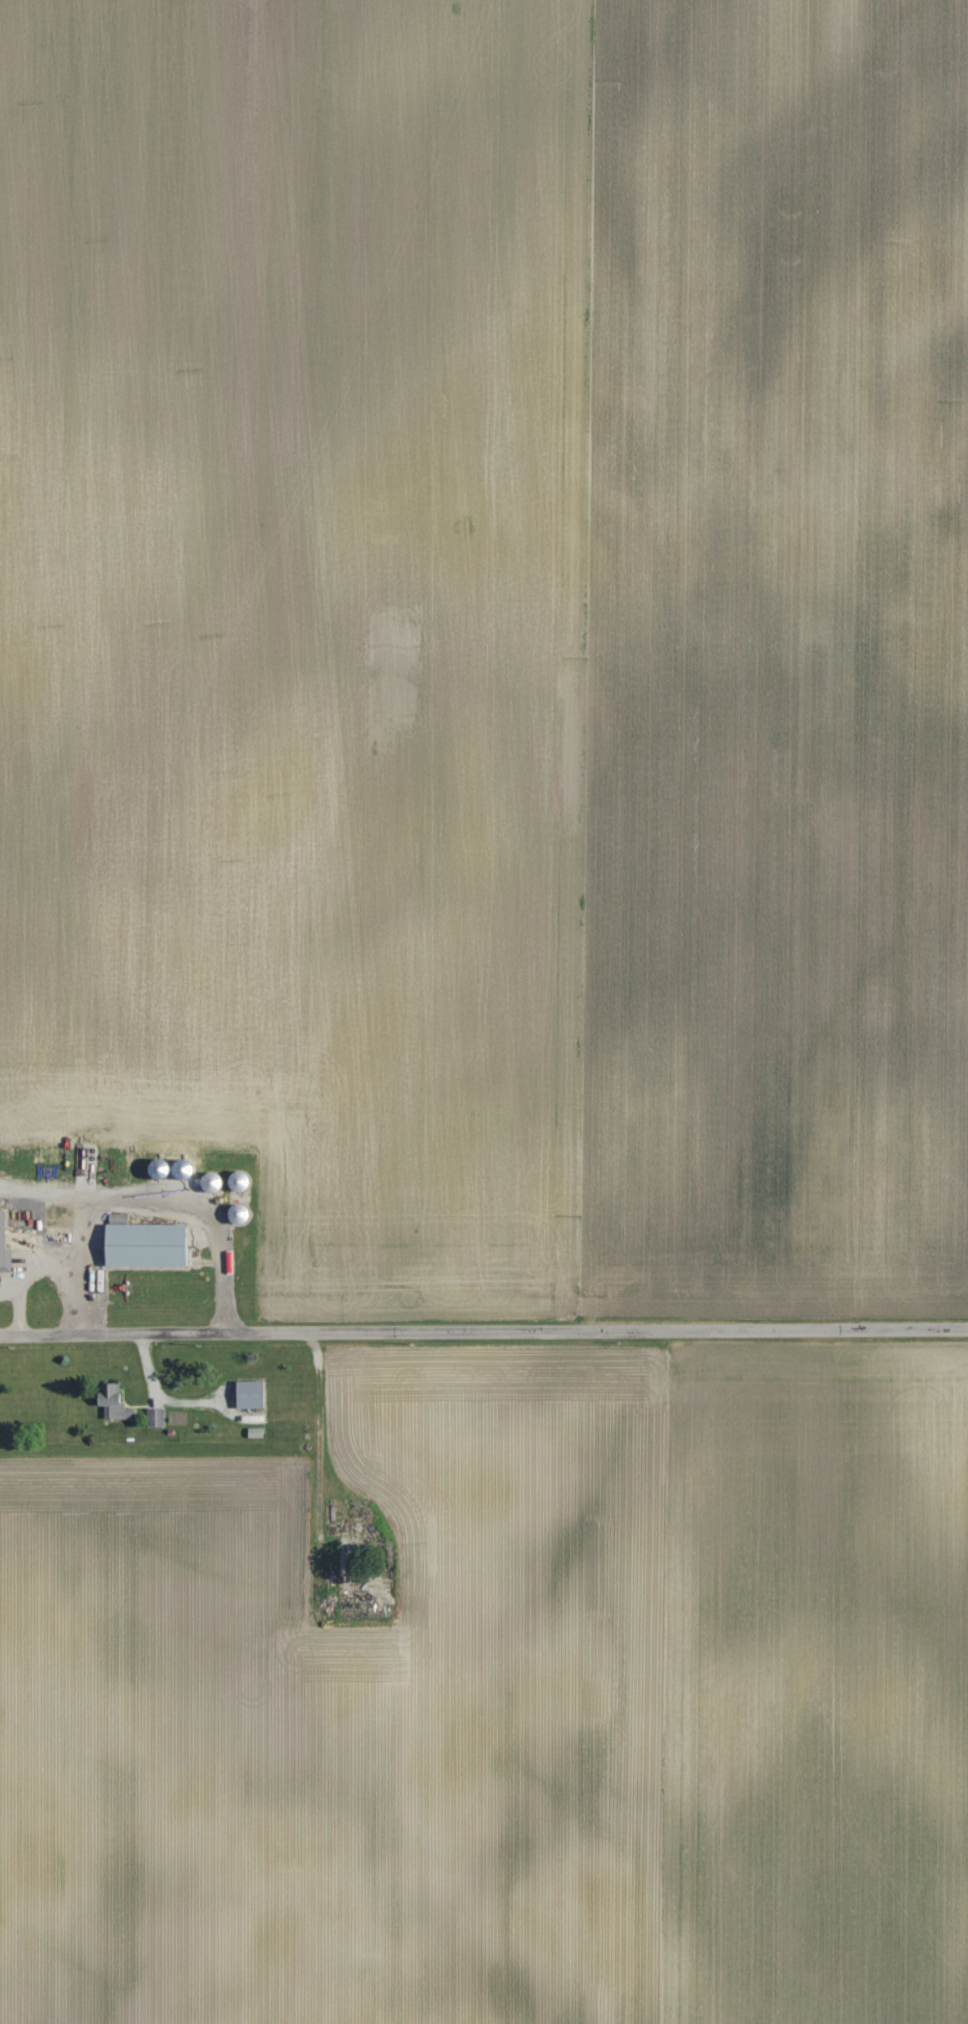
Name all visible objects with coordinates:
building: (211, 1183)
building: (238, 1183)
road: (147, 1206)
building: (237, 1214)
building: (146, 1246)
road: (31, 1263)
road: (20, 1310)
road: (483, 1331)
building: (250, 1395)
road: (158, 1398)
building: (114, 1402)
building: (155, 1418)

